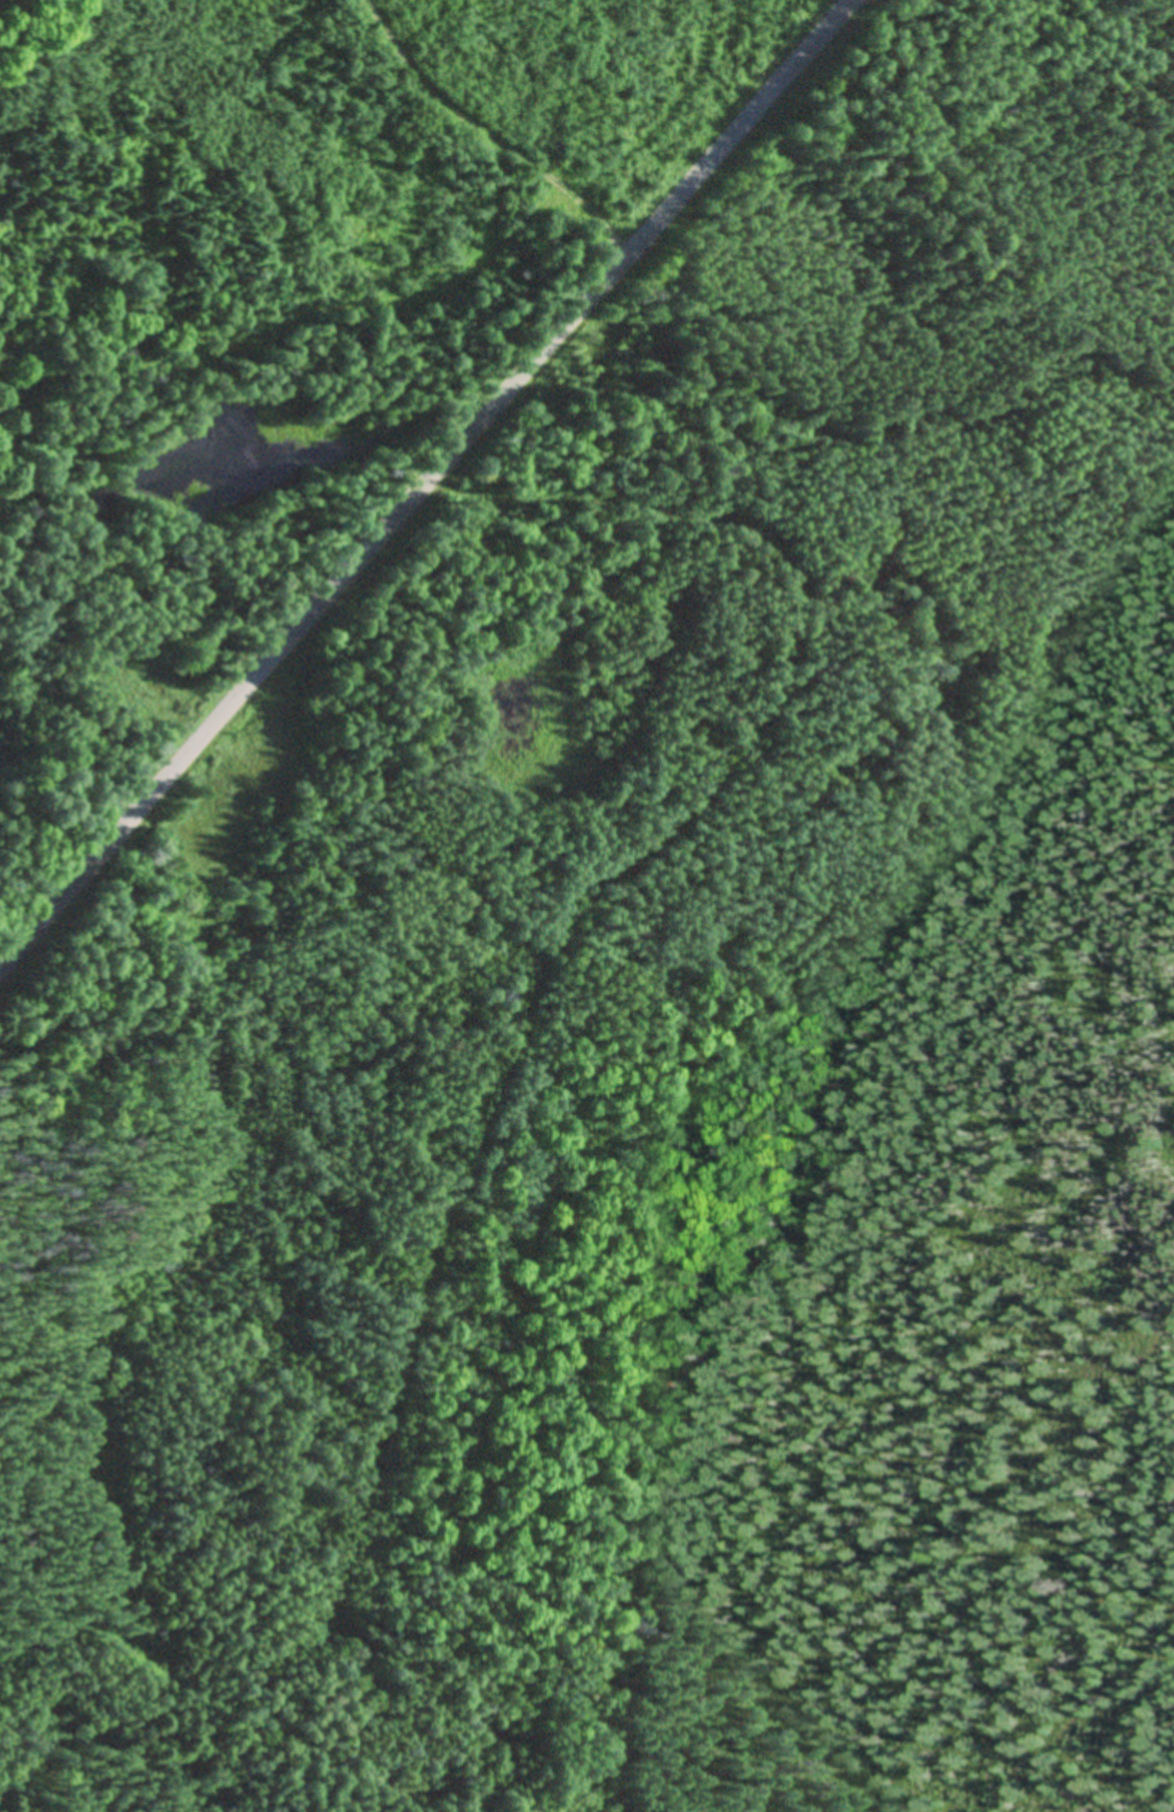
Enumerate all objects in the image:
road: (445, 501)

